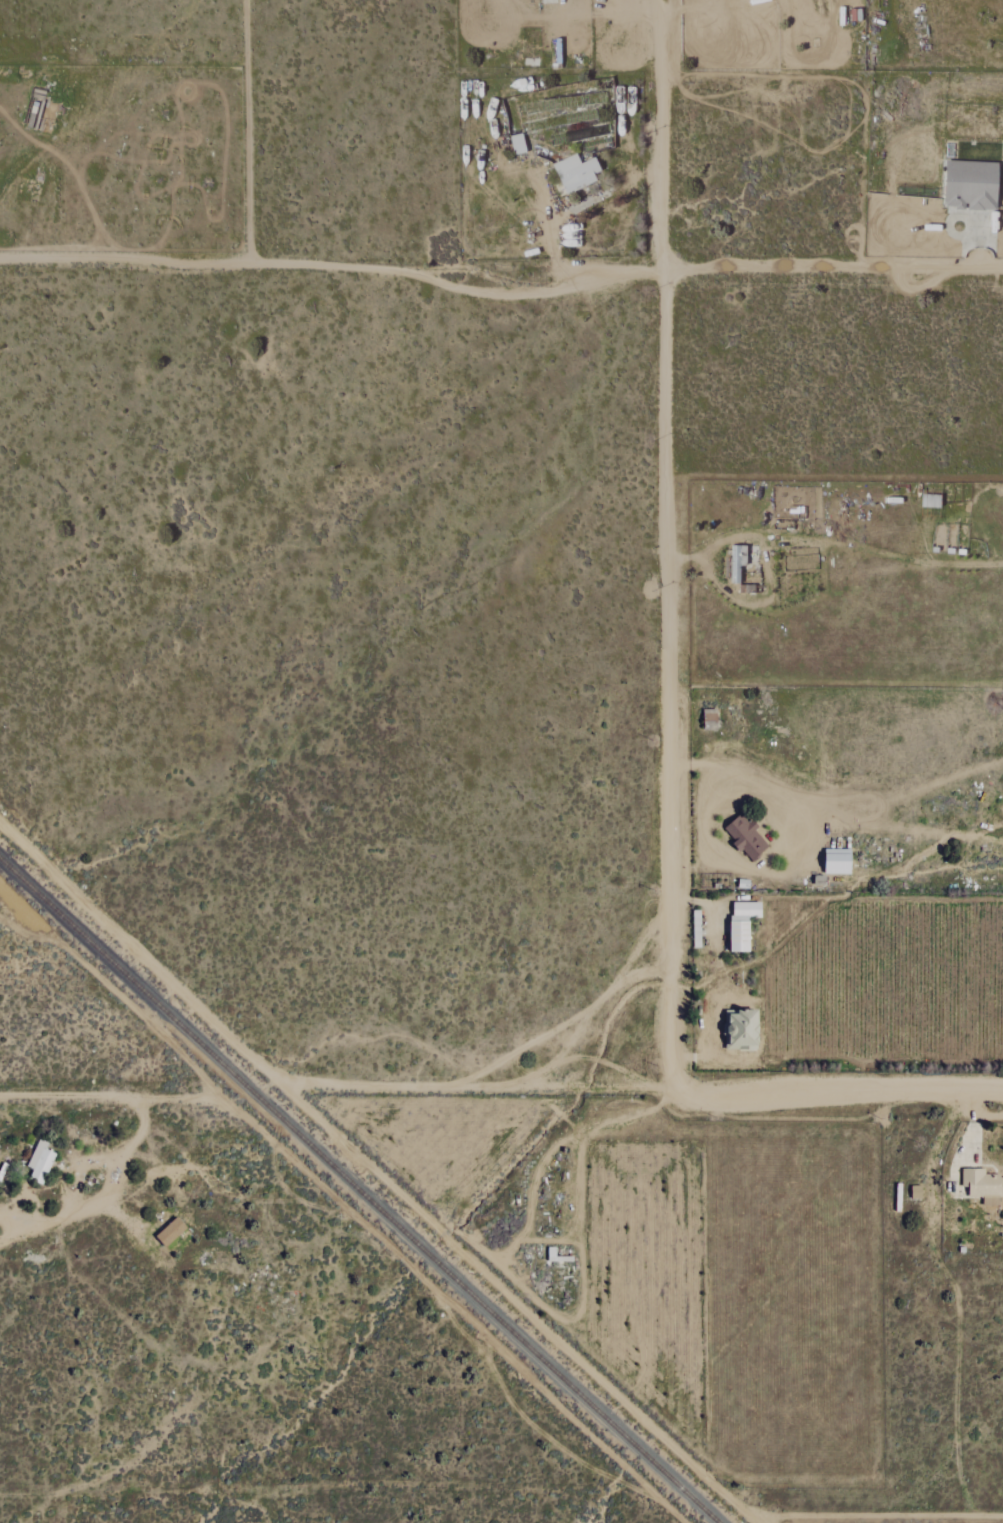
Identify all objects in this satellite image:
road: (689, 8)
road: (606, 14)
road: (247, 128)
building: (518, 144)
building: (576, 173)
building: (972, 186)
road: (549, 219)
road: (122, 255)
road: (833, 272)
road: (453, 288)
road: (667, 544)
building: (736, 566)
building: (710, 719)
road: (750, 787)
building: (746, 838)
building: (838, 861)
road: (708, 910)
building: (742, 924)
road: (708, 985)
building: (743, 1030)
road: (642, 1089)
road: (109, 1097)
road: (584, 1133)
road: (967, 1144)
building: (40, 1162)
road: (375, 1170)
building: (982, 1183)
railway: (360, 1189)
road: (101, 1196)
building: (170, 1232)
road: (454, 1306)
road: (525, 1418)
road: (878, 1514)

